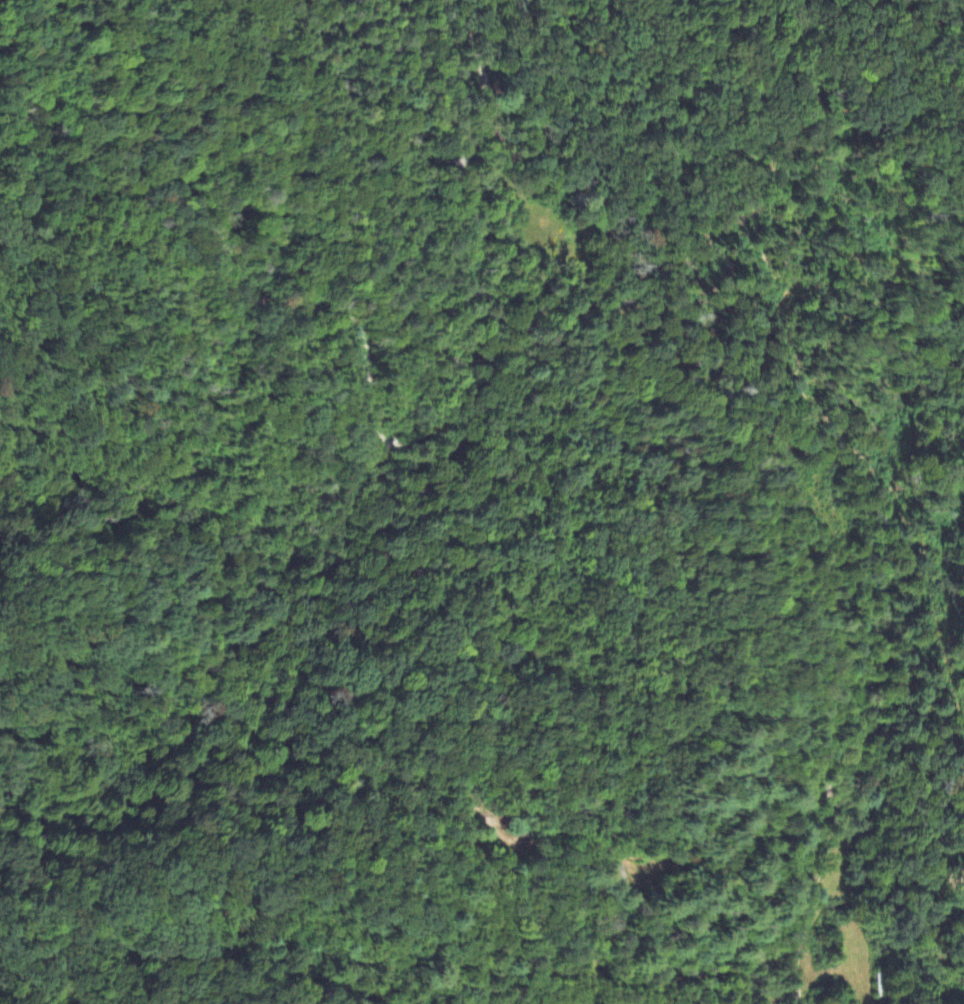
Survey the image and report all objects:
road: (483, 63)
road: (928, 172)
building: (615, 873)

